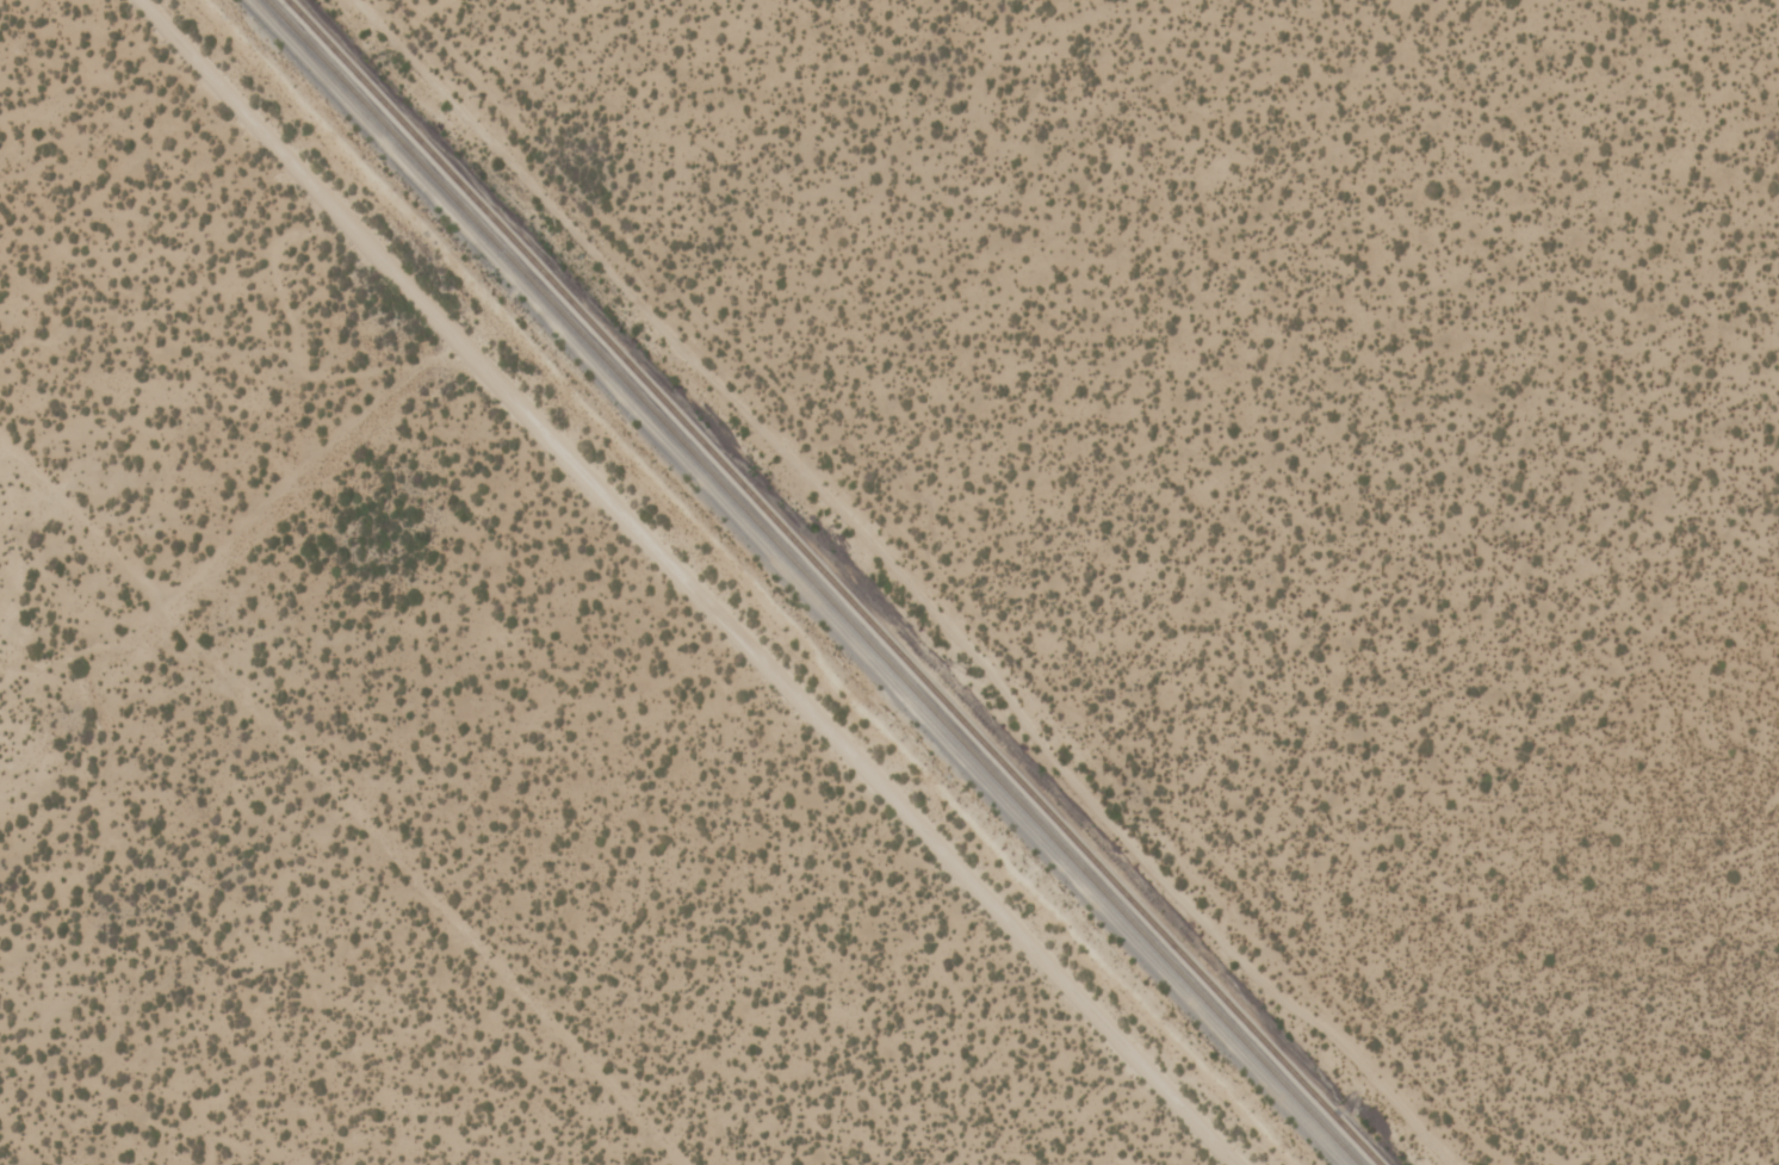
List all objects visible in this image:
road: (650, 582)
railway: (811, 582)
railway: (830, 582)
road: (899, 582)
road: (957, 584)
road: (343, 797)

